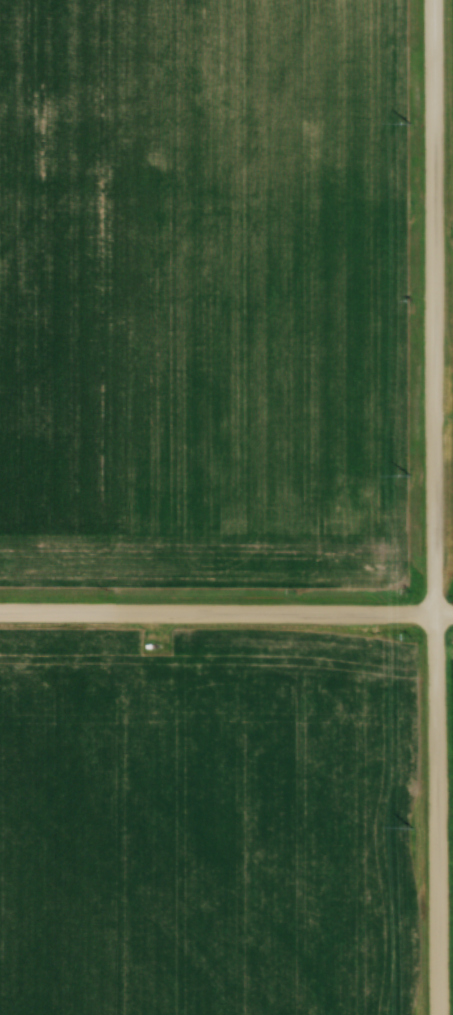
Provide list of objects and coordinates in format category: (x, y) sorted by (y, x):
road: (436, 507)
road: (226, 615)

